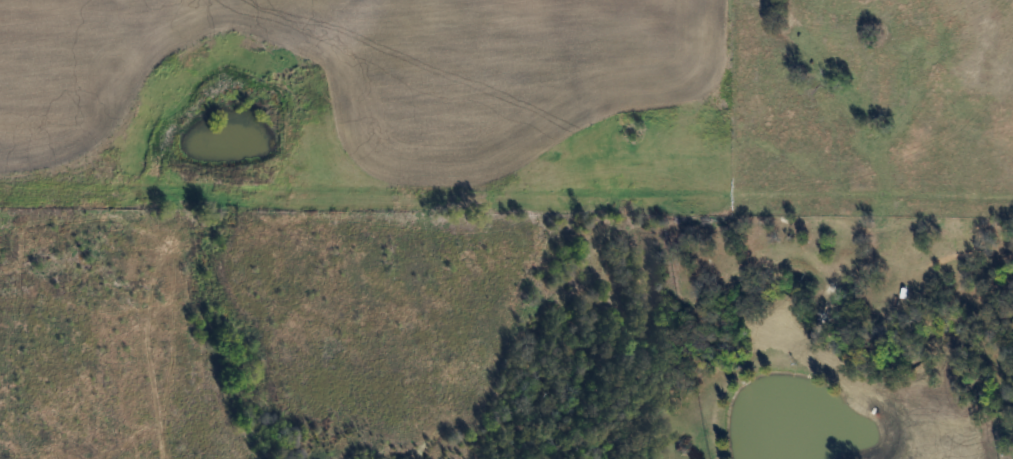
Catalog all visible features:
crop: (375, 104)

